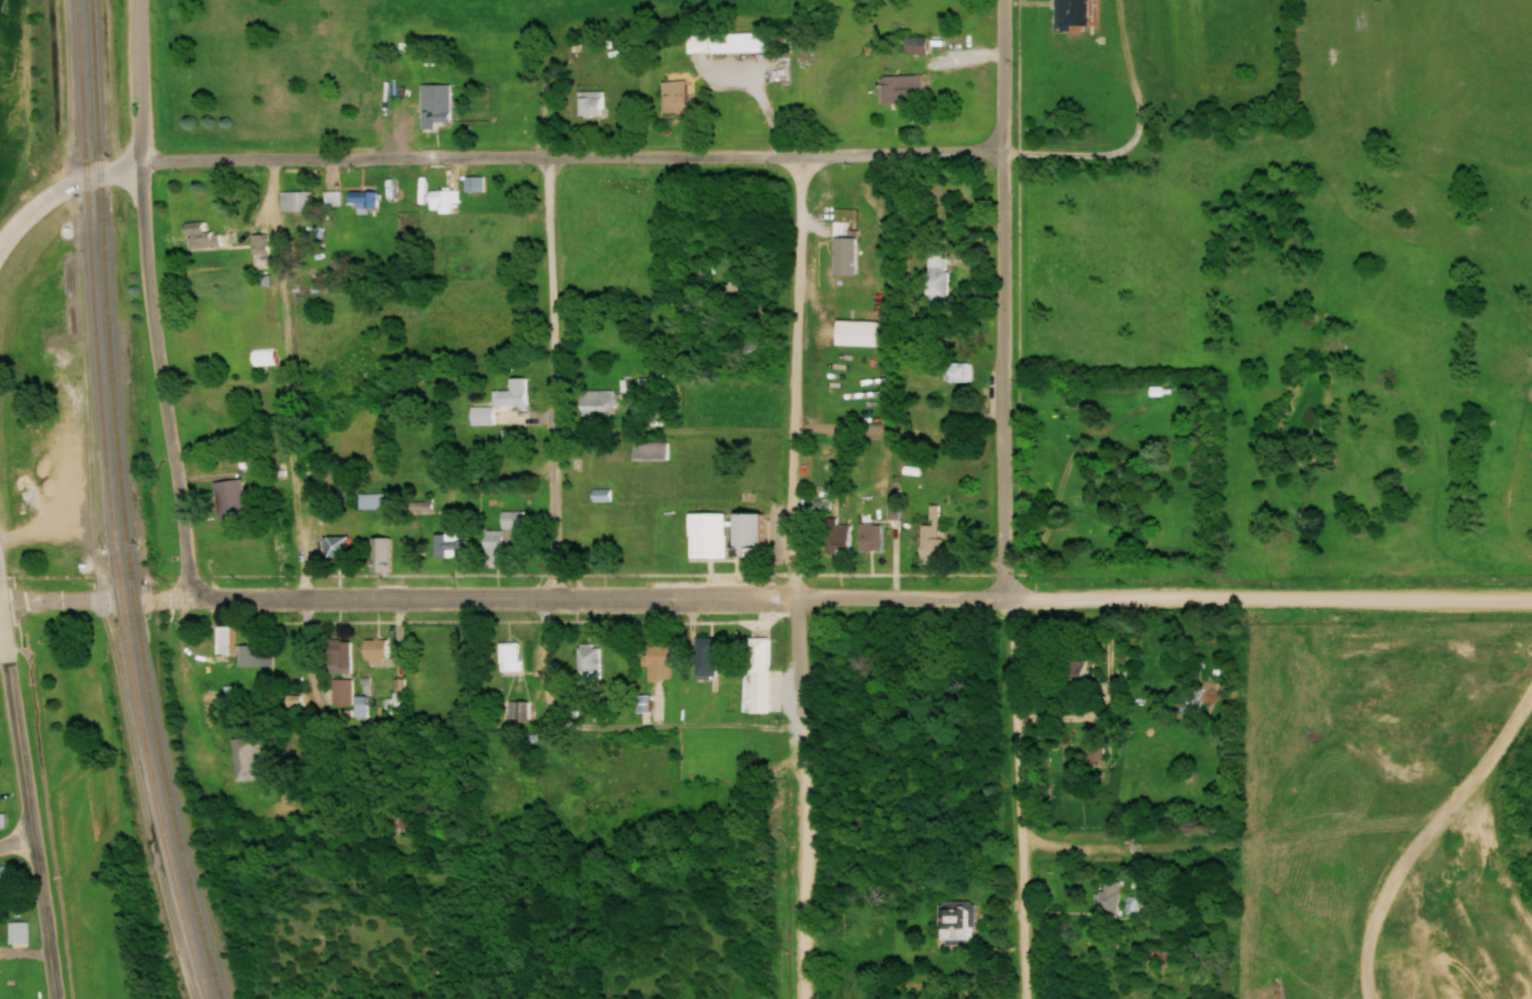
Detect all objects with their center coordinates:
building: (1076, 14)
building: (725, 43)
building: (914, 45)
road: (1110, 70)
road: (139, 80)
building: (900, 88)
road: (760, 94)
building: (672, 98)
building: (589, 103)
building: (434, 105)
road: (1100, 153)
road: (572, 156)
road: (119, 167)
building: (619, 183)
building: (472, 184)
road: (57, 189)
building: (363, 200)
building: (294, 201)
building: (440, 201)
building: (484, 221)
building: (837, 228)
road: (11, 231)
building: (199, 237)
building: (257, 243)
building: (843, 255)
building: (934, 274)
building: (732, 292)
road: (1003, 300)
building: (262, 357)
building: (957, 372)
road: (797, 375)
road: (552, 376)
road: (162, 377)
building: (594, 402)
building: (500, 403)
building: (649, 450)
building: (227, 499)
building: (376, 500)
railway: (111, 503)
railway: (122, 504)
building: (421, 507)
building: (929, 535)
building: (706, 536)
building: (746, 536)
building: (868, 537)
building: (499, 538)
building: (836, 540)
building: (447, 546)
building: (335, 547)
building: (379, 555)
road: (1526, 597)
road: (600, 598)
road: (1265, 598)
building: (223, 641)
building: (374, 652)
building: (439, 656)
building: (756, 656)
building: (337, 657)
building: (508, 657)
building: (703, 658)
building: (587, 663)
building: (656, 663)
building: (1073, 673)
building: (339, 692)
building: (1190, 701)
building: (641, 704)
building: (358, 707)
building: (517, 710)
building: (1092, 753)
building: (245, 760)
road: (802, 797)
road: (1017, 799)
road: (29, 812)
building: (1, 821)
road: (17, 844)
building: (1, 873)
building: (1107, 898)
building: (1131, 906)
building: (953, 921)
building: (15, 933)
building: (1159, 954)

